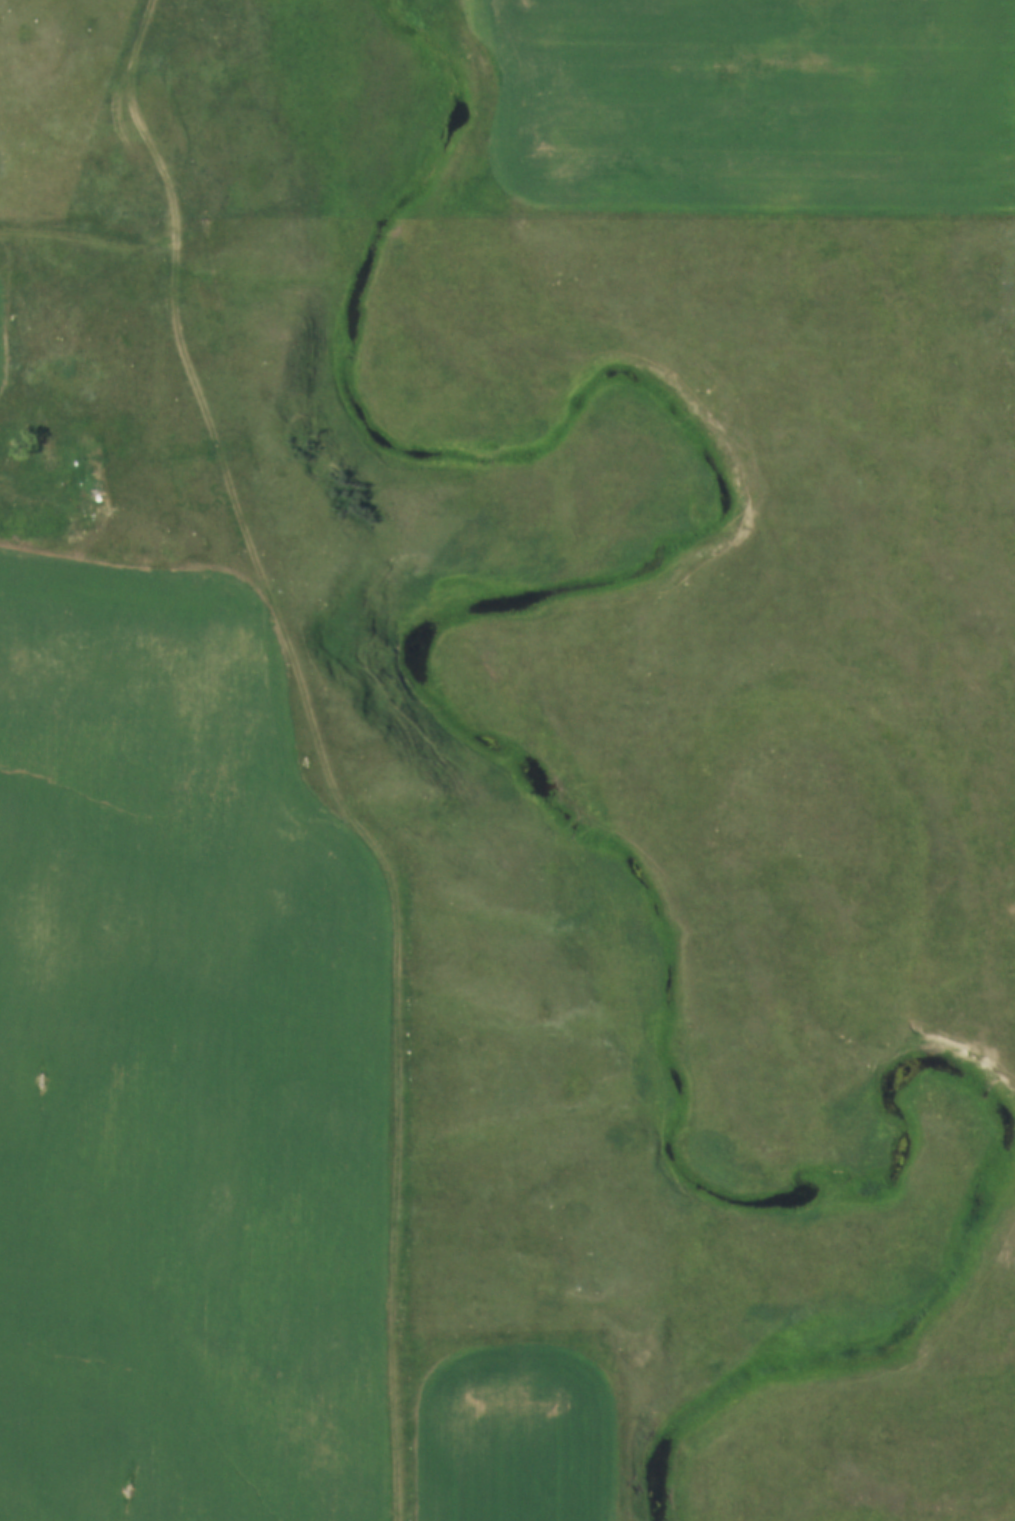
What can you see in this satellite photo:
road: (318, 752)

